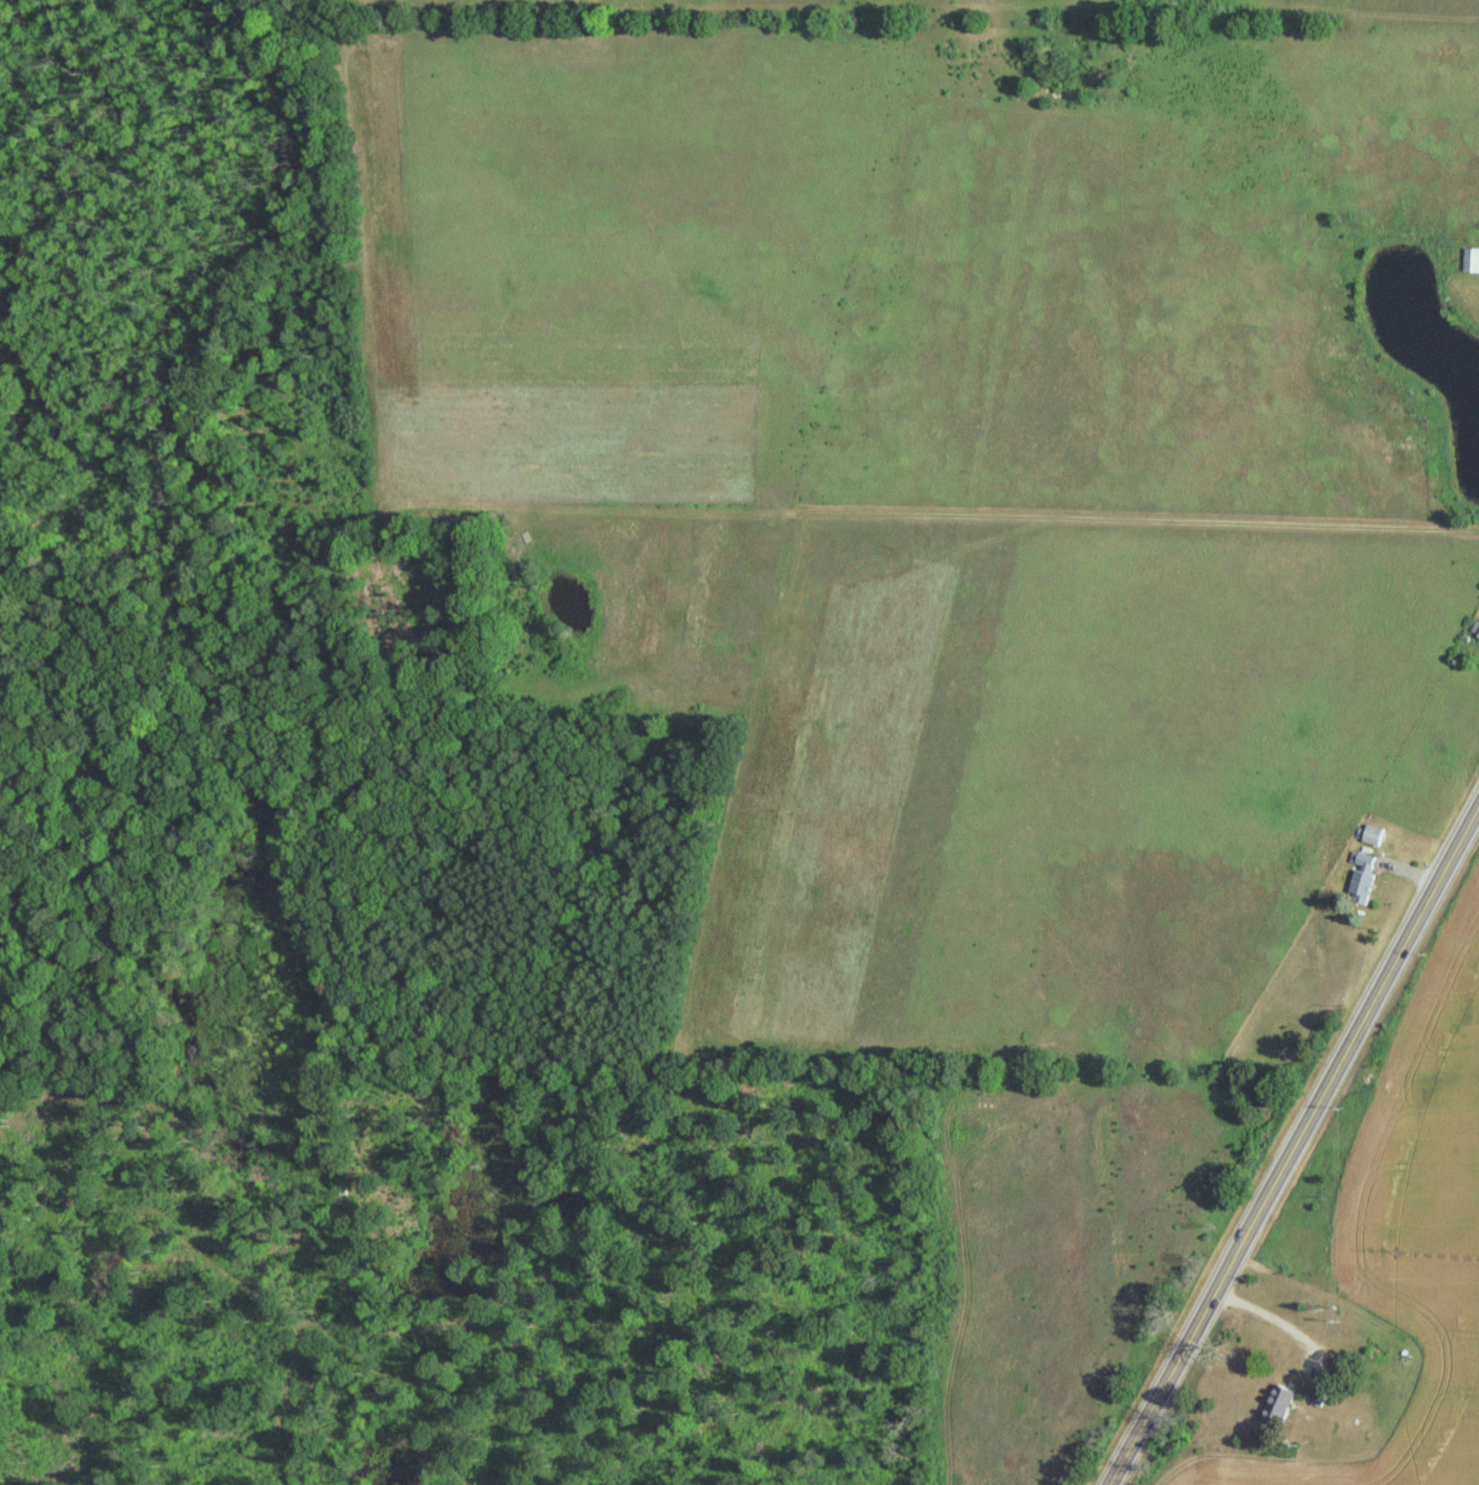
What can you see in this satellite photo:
building: (1472, 262)
building: (1375, 837)
building: (1364, 879)
road: (1294, 1150)
road: (1272, 1320)
building: (1320, 1398)
building: (1280, 1408)

